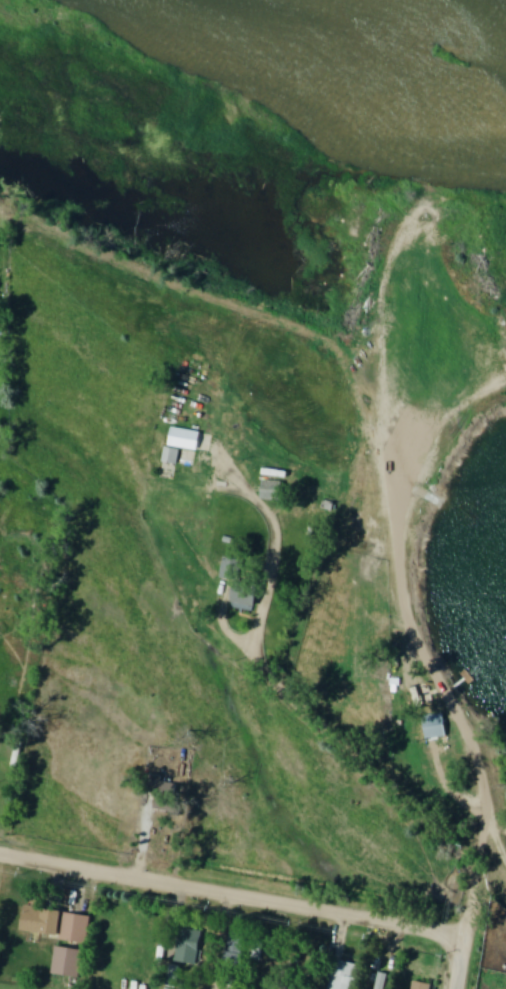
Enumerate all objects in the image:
river: (363, 73)
building: (186, 440)
building: (272, 491)
building: (240, 584)
road: (297, 705)
building: (435, 728)
road: (483, 775)
road: (496, 876)
road: (229, 893)
road: (472, 904)
building: (57, 925)
building: (190, 944)
building: (236, 951)
road: (455, 961)
building: (67, 962)
building: (342, 975)
building: (421, 986)

